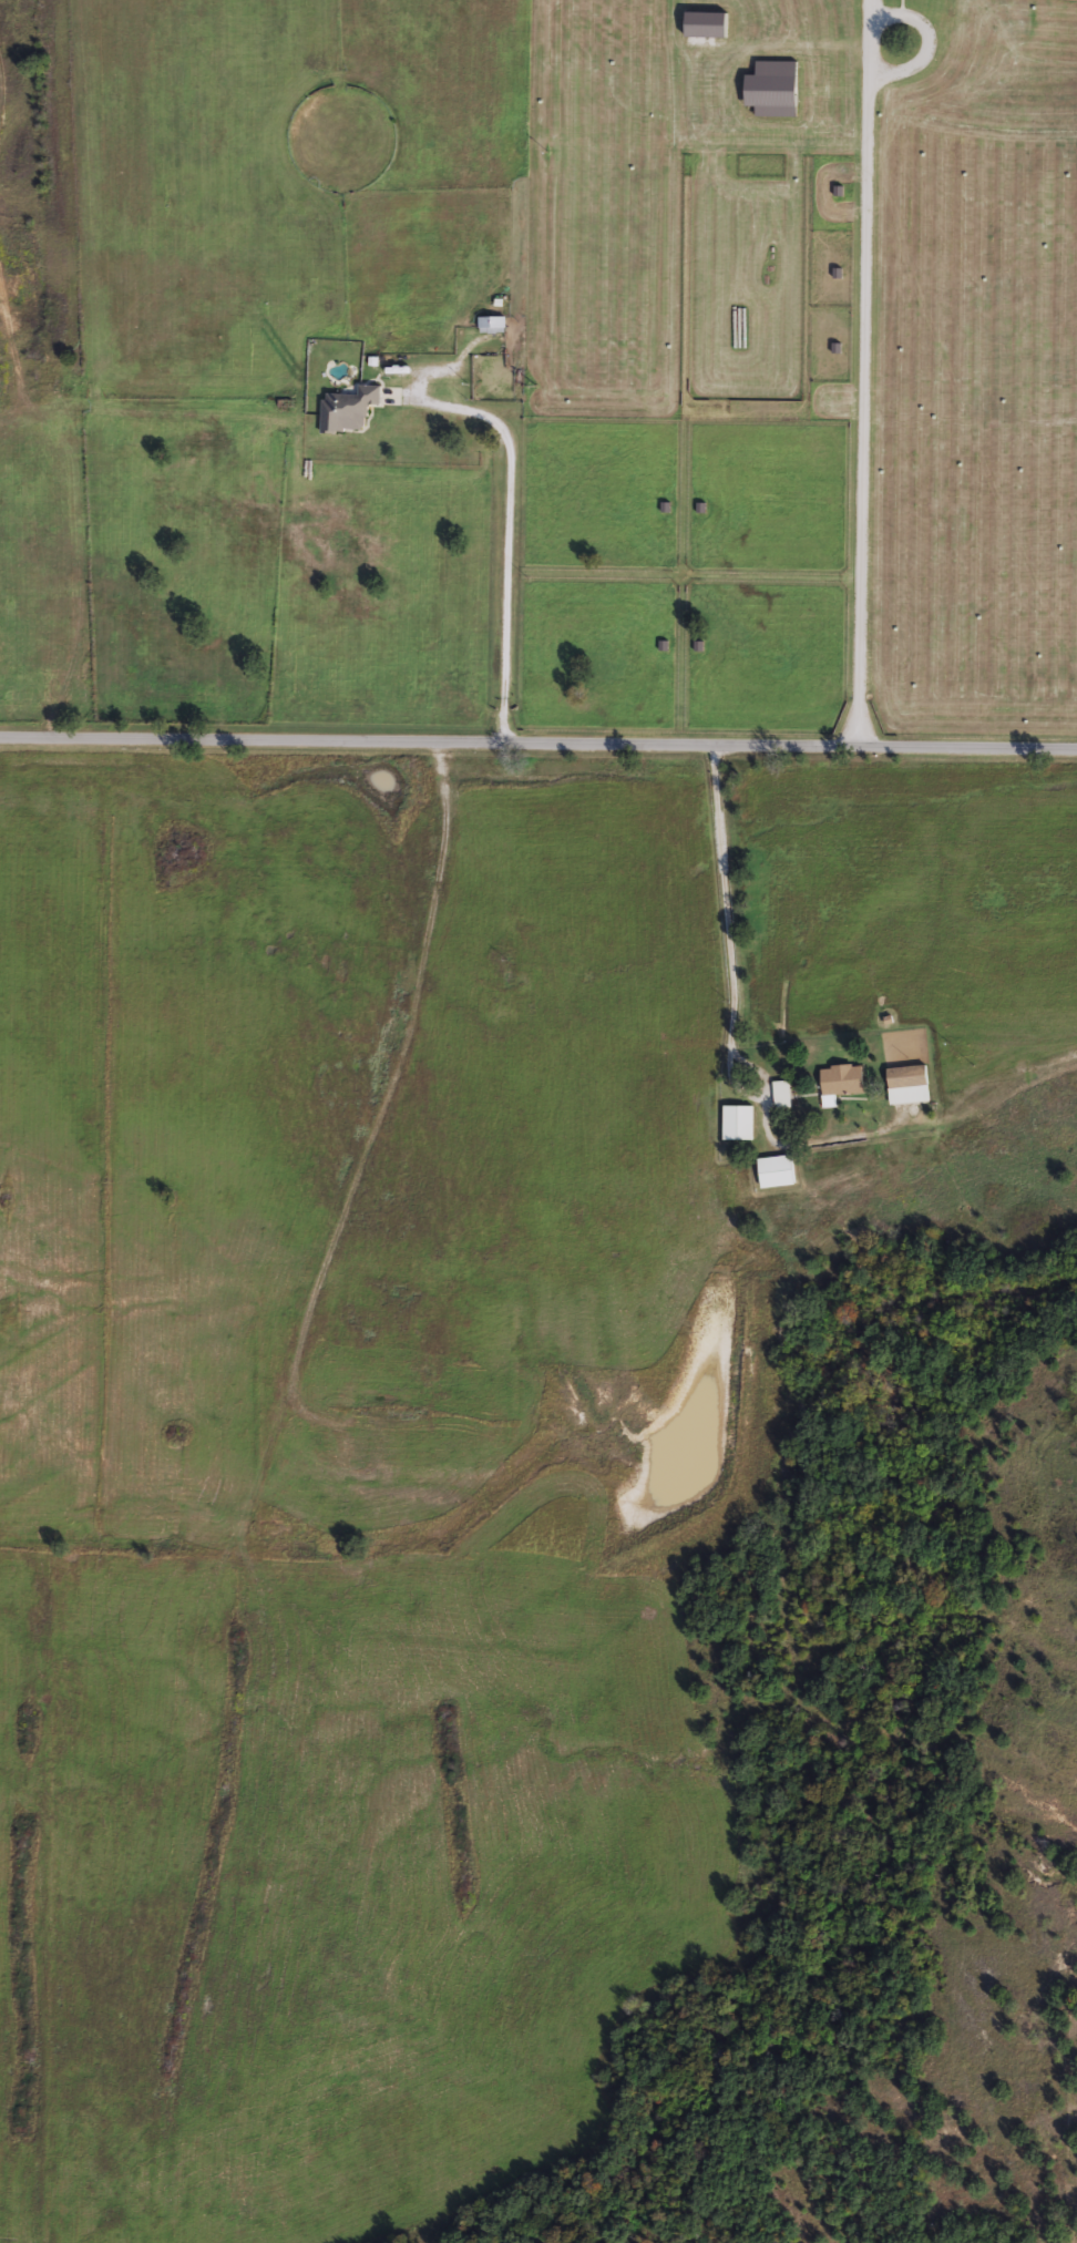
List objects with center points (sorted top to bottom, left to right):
road: (866, 307)
building: (492, 324)
building: (347, 409)
road: (510, 534)
road: (537, 739)
road: (736, 983)
building: (841, 1079)
building: (906, 1084)
building: (781, 1094)
building: (738, 1121)
building: (775, 1170)

